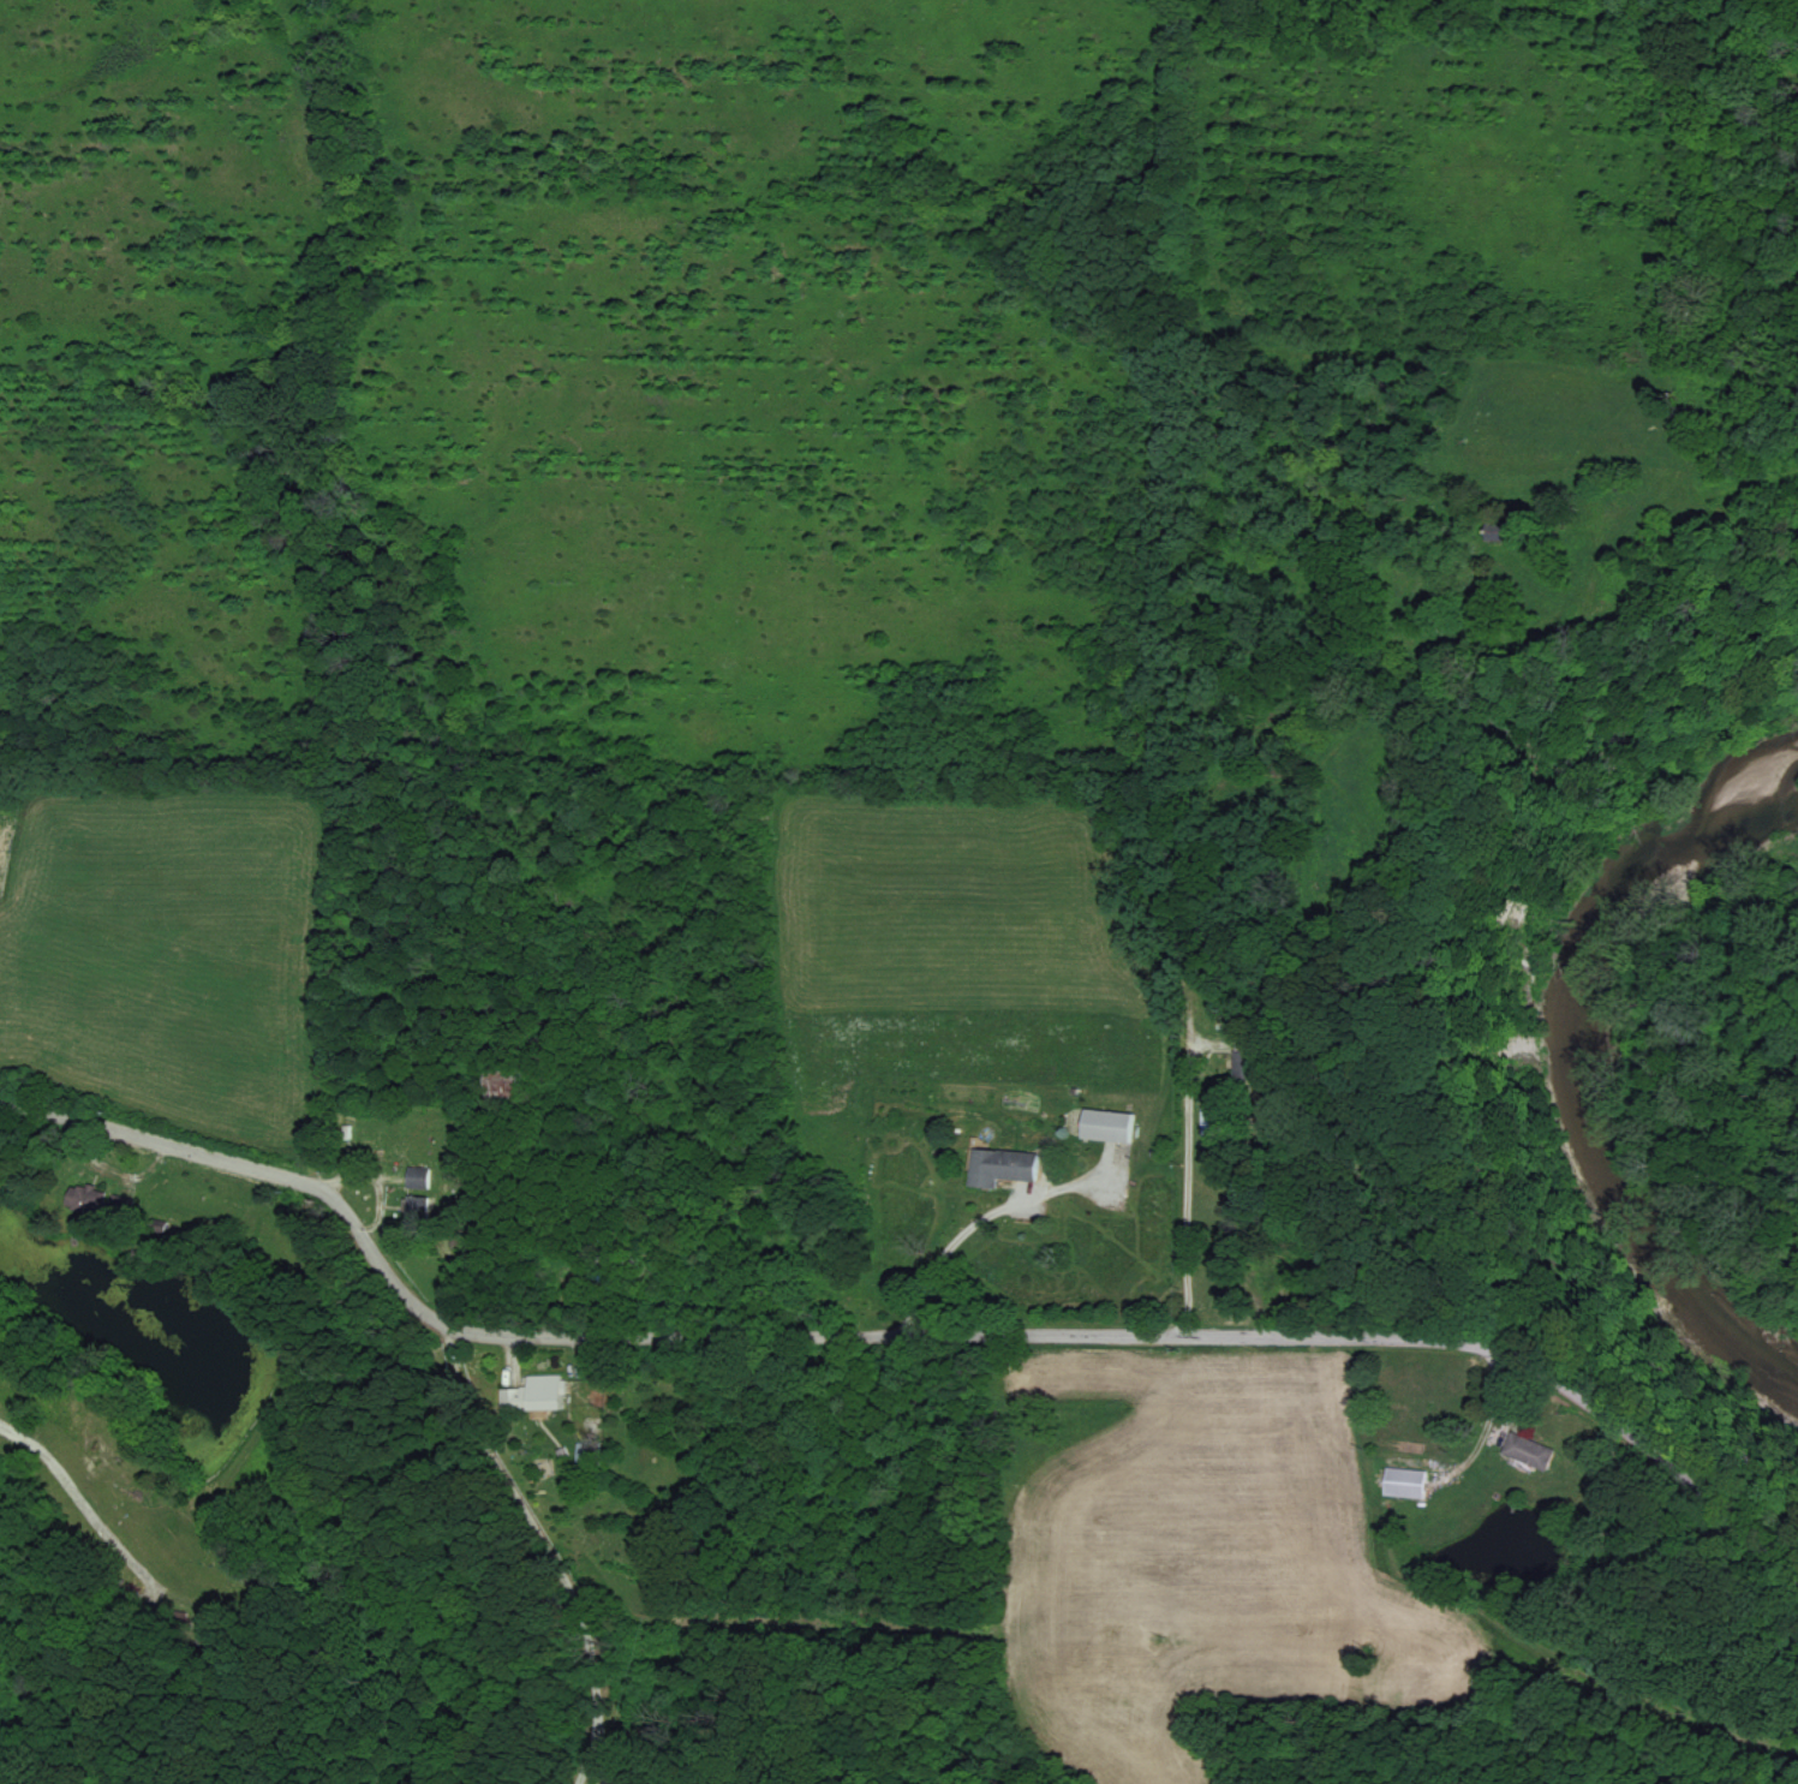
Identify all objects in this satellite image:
building: (1249, 1063)
river: (1559, 1070)
building: (1109, 1124)
building: (1002, 1165)
building: (418, 1177)
road: (1184, 1197)
building: (88, 1200)
road: (956, 1219)
road: (907, 1335)
building: (534, 1394)
road: (490, 1448)
building: (1529, 1450)
building: (1405, 1481)
road: (82, 1500)
road: (590, 1639)
road: (590, 1756)
road: (603, 1756)

